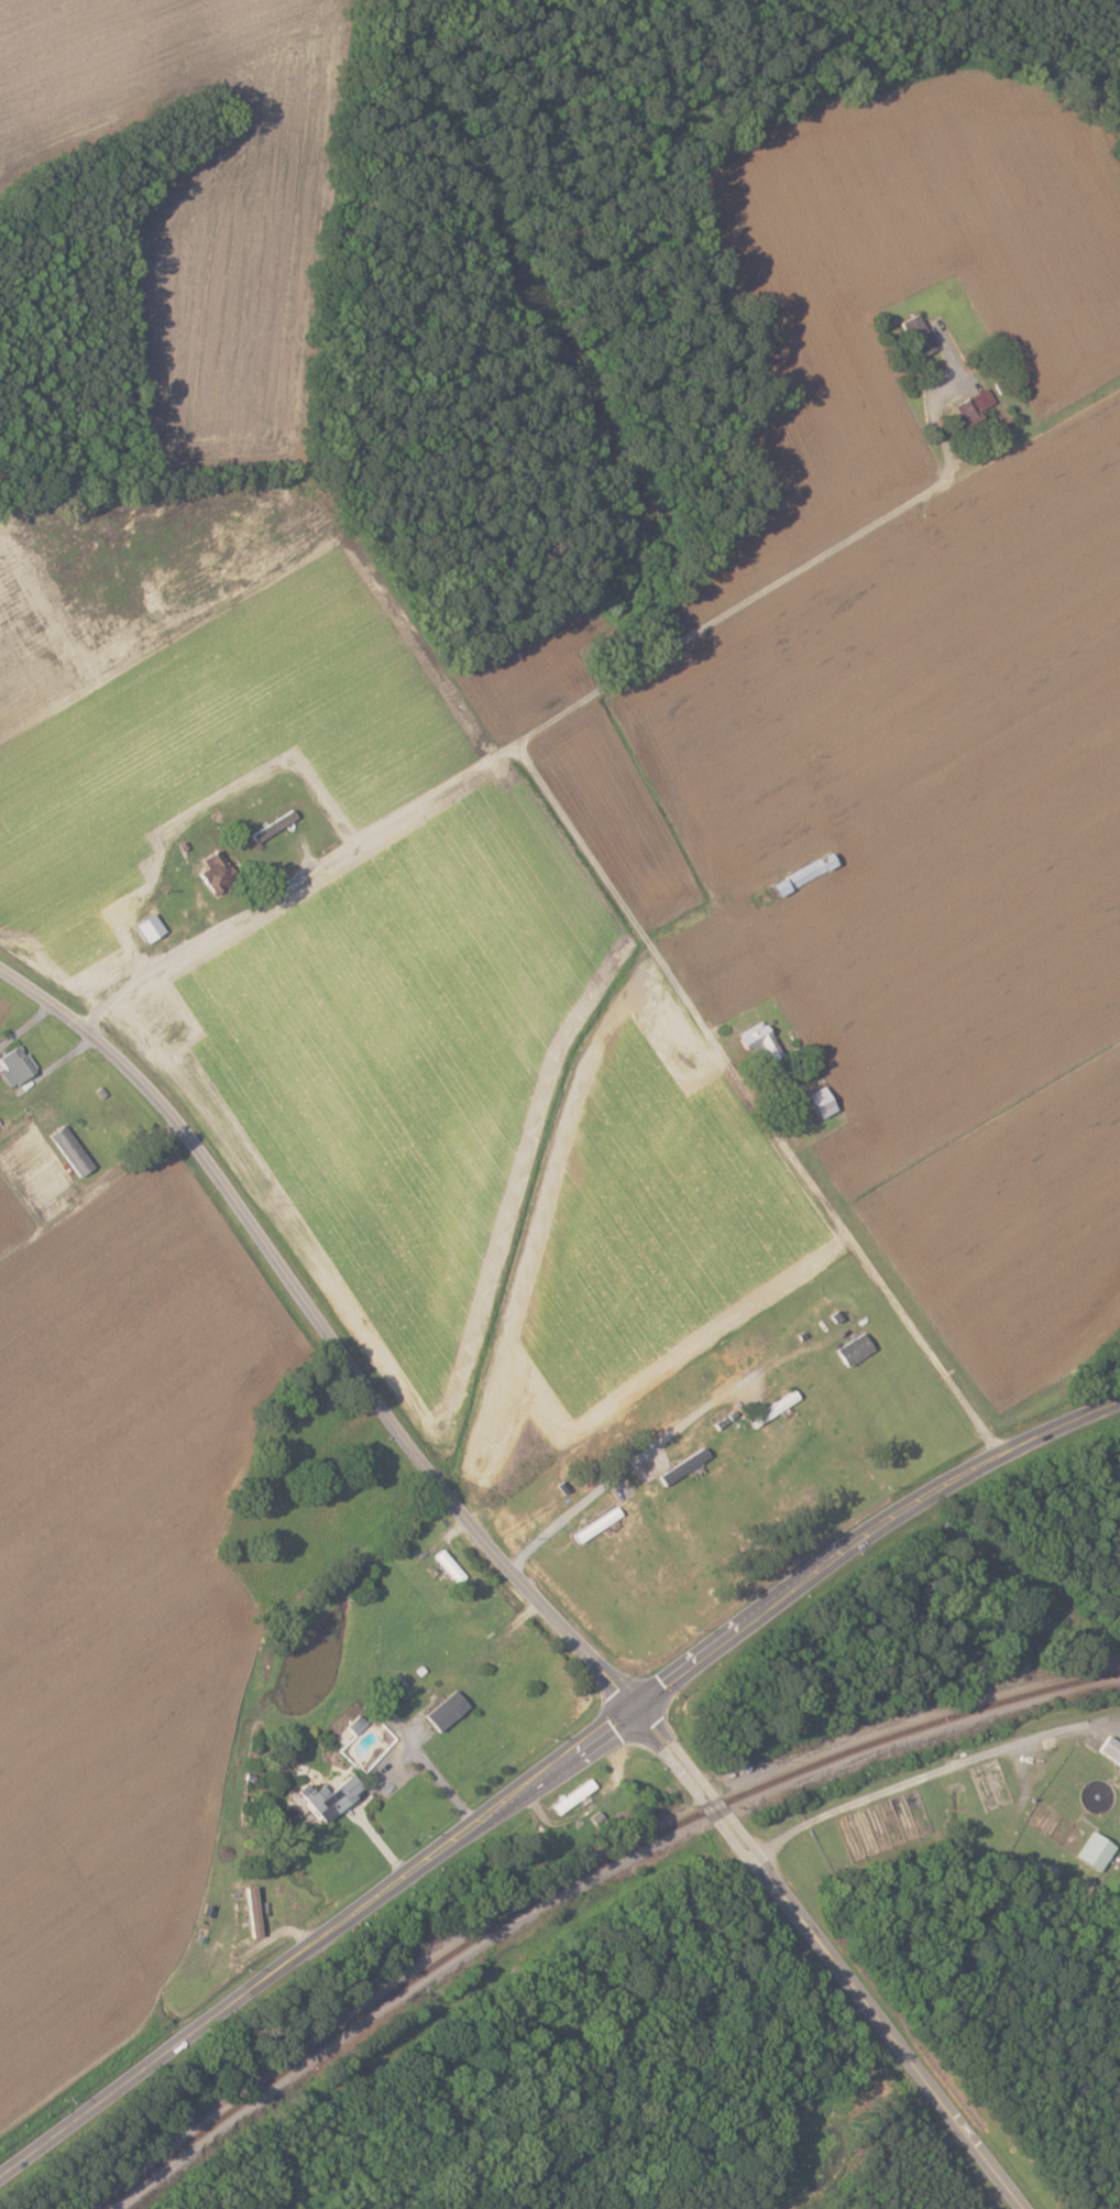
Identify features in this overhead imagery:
building: (915, 333)
building: (970, 405)
road: (733, 615)
building: (211, 870)
road: (614, 883)
building: (146, 927)
building: (14, 1064)
building: (69, 1149)
road: (218, 1177)
building: (853, 1356)
building: (771, 1409)
road: (638, 1457)
building: (680, 1467)
road: (507, 1567)
traffic signals: (628, 1706)
building: (443, 1710)
building: (353, 1723)
road: (595, 1730)
building: (1109, 1748)
road: (933, 1770)
building: (571, 1795)
building: (329, 1796)
building: (1091, 1850)
railway: (606, 1860)
building: (252, 1910)
road: (831, 1951)
road: (50, 2142)
railway: (125, 2188)

